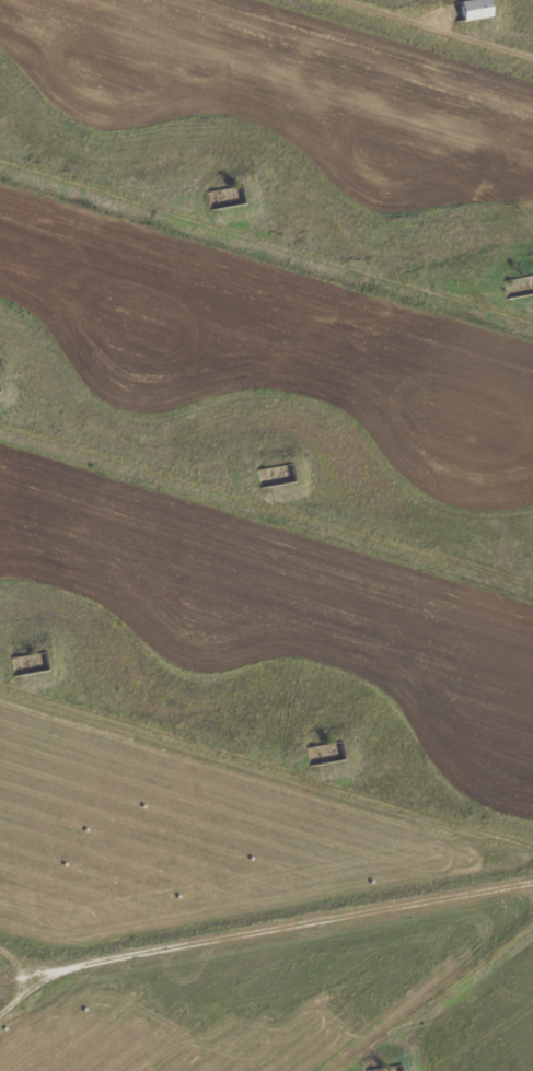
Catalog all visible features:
building: (473, 9)
road: (433, 28)
road: (266, 242)
building: (275, 475)
road: (266, 523)
building: (30, 663)
building: (325, 753)
road: (266, 773)
road: (265, 930)
road: (37, 977)
road: (37, 997)
road: (442, 1003)
building: (383, 1068)

